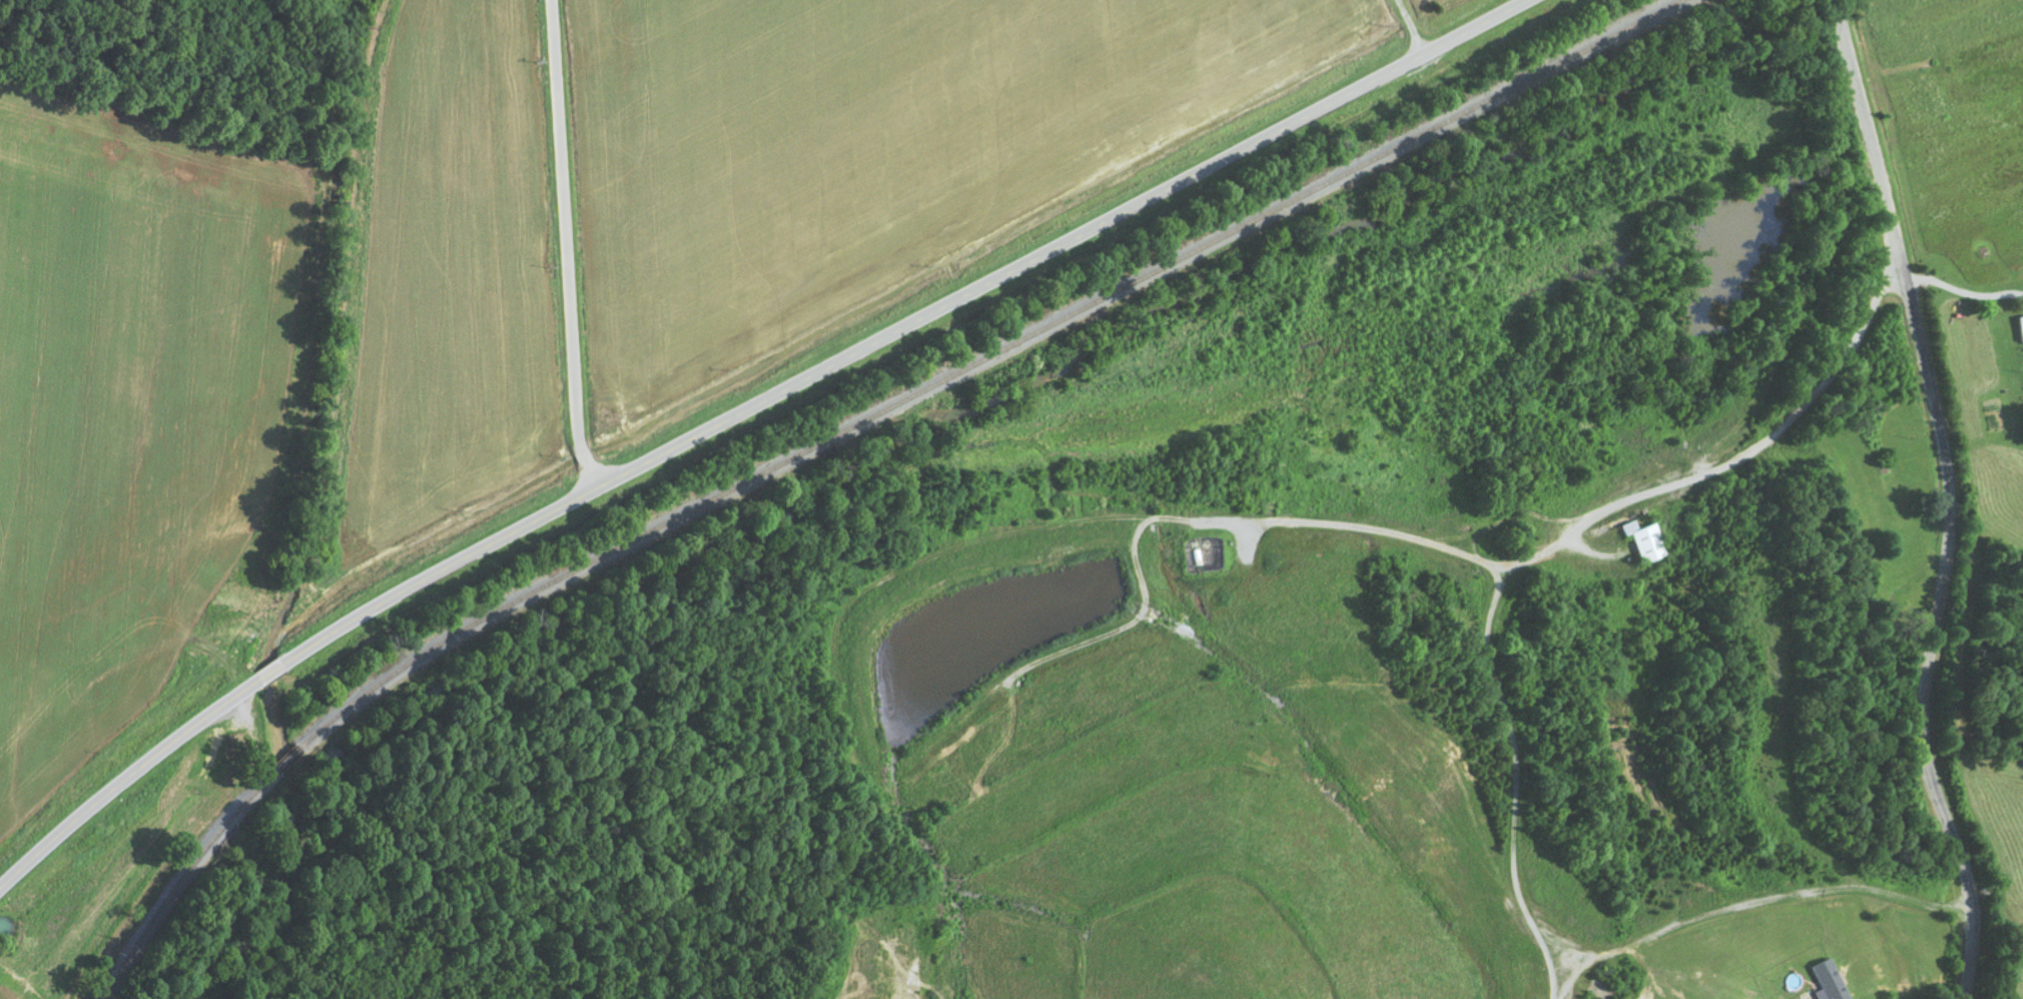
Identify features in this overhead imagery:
road: (1411, 27)
road: (567, 248)
road: (743, 411)
railway: (839, 434)
road: (1946, 497)
building: (1646, 542)
road: (1754, 683)
road: (1818, 740)
building: (1828, 981)

